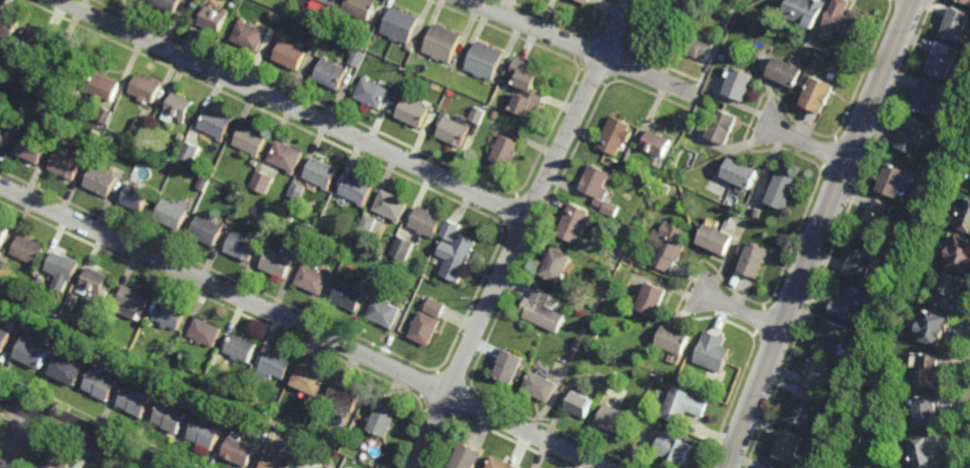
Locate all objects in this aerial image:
building: (967, 0)
building: (334, 1)
building: (586, 1)
building: (696, 1)
building: (169, 4)
building: (363, 7)
building: (806, 11)
building: (677, 14)
building: (215, 18)
building: (846, 18)
building: (275, 19)
building: (956, 23)
building: (9, 24)
building: (404, 24)
building: (251, 35)
building: (317, 39)
building: (40, 40)
building: (444, 43)
building: (698, 46)
road: (585, 47)
building: (292, 54)
building: (359, 57)
building: (944, 59)
building: (485, 60)
building: (69, 70)
building: (788, 71)
building: (333, 73)
building: (741, 84)
building: (30, 85)
building: (105, 86)
building: (146, 88)
building: (528, 88)
building: (375, 93)
building: (820, 95)
building: (929, 96)
building: (180, 106)
road: (294, 108)
building: (416, 111)
building: (105, 115)
building: (479, 115)
building: (217, 124)
building: (140, 127)
building: (724, 127)
building: (455, 131)
building: (4, 133)
building: (616, 135)
building: (914, 136)
building: (253, 140)
building: (658, 142)
road: (809, 142)
building: (32, 148)
building: (506, 151)
building: (190, 152)
building: (287, 157)
building: (255, 162)
building: (67, 163)
building: (948, 164)
building: (629, 167)
building: (323, 173)
building: (741, 174)
building: (102, 180)
building: (895, 181)
building: (263, 182)
building: (597, 182)
building: (358, 189)
building: (667, 189)
building: (299, 191)
building: (784, 191)
building: (138, 197)
building: (393, 206)
building: (613, 209)
building: (757, 212)
building: (174, 213)
building: (965, 218)
building: (429, 222)
building: (575, 223)
building: (369, 224)
building: (876, 224)
building: (923, 229)
building: (209, 230)
building: (452, 230)
building: (3, 233)
road: (521, 233)
road: (820, 234)
building: (718, 240)
building: (347, 243)
building: (243, 246)
building: (669, 246)
building: (404, 248)
building: (29, 249)
building: (960, 255)
building: (460, 259)
building: (757, 262)
building: (279, 263)
building: (63, 266)
building: (559, 266)
building: (860, 267)
building: (38, 279)
building: (313, 280)
building: (96, 281)
building: (951, 293)
building: (349, 296)
building: (654, 300)
building: (134, 301)
building: (851, 305)
building: (437, 308)
road: (742, 310)
building: (544, 312)
building: (386, 313)
building: (170, 316)
building: (105, 322)
road: (304, 326)
building: (426, 329)
building: (934, 329)
building: (205, 332)
building: (883, 335)
building: (4, 339)
building: (832, 340)
building: (675, 341)
building: (581, 344)
building: (240, 348)
building: (713, 352)
building: (33, 354)
building: (274, 365)
building: (509, 368)
building: (68, 370)
building: (929, 373)
building: (817, 374)
building: (310, 379)
building: (101, 380)
building: (541, 386)
building: (229, 387)
building: (345, 395)
building: (242, 396)
building: (136, 399)
building: (581, 400)
building: (684, 403)
building: (929, 406)
building: (801, 407)
building: (847, 410)
building: (171, 414)
building: (615, 416)
building: (384, 417)
building: (253, 419)
building: (344, 428)
road: (81, 430)
building: (206, 431)
building: (856, 434)
road: (19, 438)
building: (788, 442)
building: (318, 445)
building: (674, 445)
building: (927, 448)
building: (241, 449)
building: (469, 454)
building: (278, 461)
building: (503, 462)
building: (53, 464)
building: (774, 465)
building: (307, 467)
building: (835, 467)

